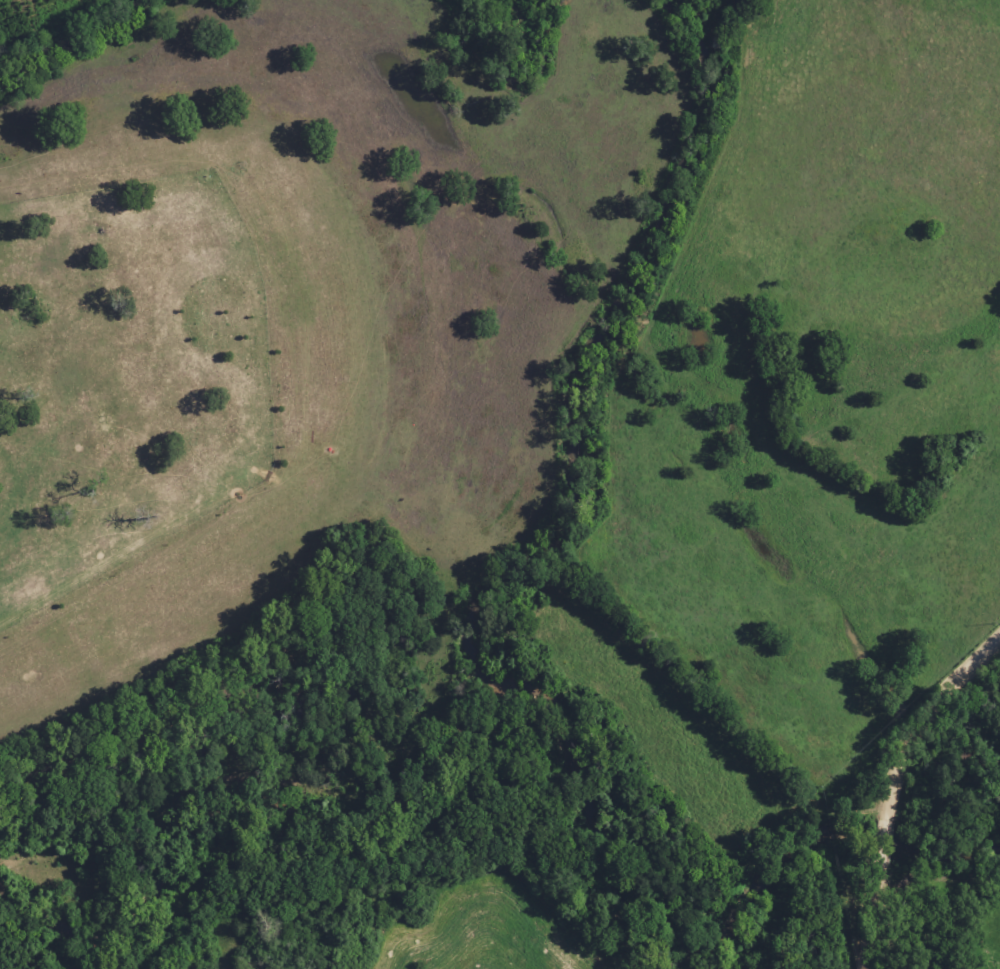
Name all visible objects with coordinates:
road: (893, 790)

